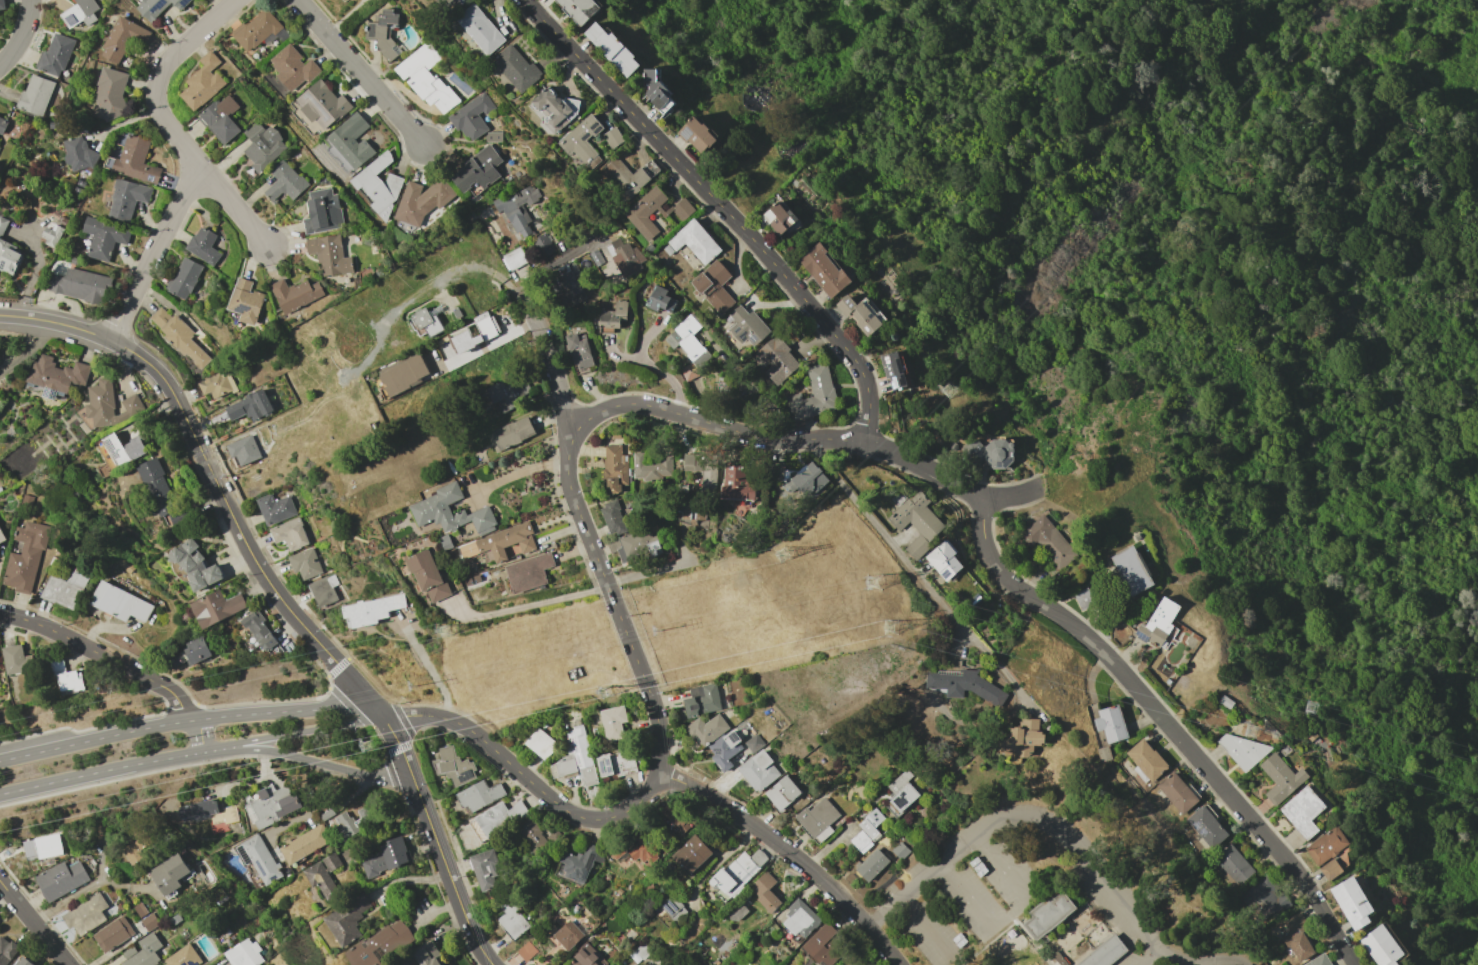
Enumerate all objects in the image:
building: (341, 0)
building: (344, 0)
building: (450, 4)
building: (2, 5)
building: (159, 6)
building: (580, 9)
building: (80, 13)
building: (480, 29)
building: (259, 31)
building: (384, 33)
road: (23, 35)
building: (119, 40)
road: (1060, 48)
building: (613, 49)
building: (55, 55)
building: (293, 67)
building: (516, 68)
road: (364, 72)
building: (426, 77)
building: (202, 81)
building: (111, 87)
building: (657, 90)
building: (35, 95)
building: (556, 104)
building: (319, 107)
building: (471, 116)
building: (220, 118)
building: (2, 125)
building: (53, 125)
building: (697, 135)
building: (493, 136)
building: (613, 137)
building: (582, 142)
building: (350, 143)
building: (263, 146)
building: (81, 155)
road: (197, 159)
building: (134, 160)
building: (479, 171)
building: (630, 175)
building: (286, 182)
building: (380, 185)
building: (126, 198)
building: (422, 201)
road: (723, 205)
road: (239, 209)
building: (519, 209)
building: (323, 212)
building: (637, 213)
building: (781, 218)
building: (3, 224)
building: (52, 234)
building: (103, 237)
building: (695, 241)
building: (204, 245)
building: (543, 245)
building: (668, 249)
building: (330, 255)
building: (624, 256)
building: (9, 257)
building: (596, 257)
building: (513, 258)
building: (75, 261)
road: (552, 262)
road: (468, 269)
building: (826, 270)
building: (183, 278)
building: (80, 285)
building: (570, 285)
building: (714, 285)
building: (296, 295)
building: (658, 297)
building: (246, 301)
building: (861, 314)
building: (611, 317)
building: (420, 318)
building: (747, 325)
building: (487, 328)
building: (179, 337)
building: (689, 340)
road: (28, 349)
building: (580, 351)
road: (617, 355)
building: (775, 358)
road: (650, 366)
road: (550, 369)
building: (894, 370)
building: (402, 374)
building: (54, 376)
building: (724, 385)
building: (215, 386)
power tower: (948, 390)
building: (509, 393)
building: (813, 395)
building: (108, 404)
building: (251, 406)
road: (722, 427)
building: (511, 434)
building: (615, 434)
building: (243, 450)
building: (119, 452)
building: (991, 452)
building: (690, 461)
building: (651, 467)
building: (614, 469)
road: (521, 471)
building: (709, 473)
building: (799, 479)
building: (737, 483)
building: (0, 489)
building: (160, 492)
building: (26, 500)
building: (275, 508)
building: (429, 508)
building: (694, 515)
building: (613, 517)
building: (916, 523)
building: (290, 533)
building: (2, 536)
building: (445, 542)
building: (506, 542)
building: (1049, 543)
building: (634, 544)
building: (25, 556)
power tower: (781, 556)
building: (943, 561)
building: (305, 563)
road: (907, 563)
building: (125, 564)
building: (196, 565)
building: (1131, 570)
building: (528, 572)
building: (426, 575)
power tower: (872, 582)
building: (64, 589)
building: (324, 590)
road: (279, 598)
building: (1084, 598)
building: (118, 602)
road: (527, 605)
building: (216, 608)
building: (372, 610)
building: (1157, 625)
building: (259, 629)
power tower: (889, 629)
power tower: (440, 631)
power tower: (658, 631)
building: (190, 652)
building: (17, 660)
road: (119, 664)
road: (429, 668)
road: (1126, 674)
building: (66, 678)
building: (965, 684)
power tower: (413, 686)
power tower: (610, 690)
building: (702, 701)
building: (1226, 701)
power tower: (1310, 707)
power tower: (1309, 708)
road: (189, 720)
building: (1110, 723)
building: (613, 725)
building: (706, 729)
power tower: (1249, 731)
power tower: (180, 739)
building: (1021, 741)
building: (541, 743)
building: (754, 743)
power tower: (363, 746)
building: (726, 748)
building: (1242, 750)
road: (665, 752)
road: (191, 754)
building: (1104, 754)
building: (576, 758)
building: (1146, 761)
road: (323, 763)
building: (616, 763)
building: (453, 766)
building: (759, 770)
building: (1281, 777)
building: (899, 781)
building: (783, 793)
building: (1177, 793)
building: (478, 796)
building: (903, 799)
building: (270, 806)
road: (316, 809)
building: (1303, 810)
road: (1018, 812)
building: (209, 813)
building: (327, 814)
building: (675, 817)
building: (874, 817)
building: (819, 819)
building: (497, 820)
building: (355, 822)
building: (1207, 825)
building: (869, 829)
building: (97, 833)
building: (537, 838)
building: (861, 841)
building: (305, 843)
building: (136, 844)
building: (39, 846)
building: (1328, 846)
building: (616, 849)
building: (646, 849)
building: (900, 851)
building: (692, 854)
road: (795, 855)
building: (386, 857)
building: (259, 859)
building: (580, 862)
building: (1234, 864)
building: (872, 865)
road: (996, 867)
building: (485, 868)
building: (1331, 869)
building: (738, 872)
building: (171, 874)
building: (324, 876)
building: (61, 879)
road: (697, 889)
road: (79, 892)
building: (766, 892)
building: (216, 895)
road: (964, 895)
building: (1261, 895)
building: (1352, 901)
building: (672, 906)
building: (85, 914)
building: (1048, 915)
building: (145, 917)
building: (512, 918)
building: (175, 919)
building: (347, 919)
building: (800, 920)
road: (34, 924)
road: (925, 926)
building: (113, 933)
building: (568, 934)
building: (1295, 937)
building: (380, 945)
building: (825, 945)
building: (1381, 946)
building: (8, 951)
building: (143, 951)
building: (642, 951)
building: (524, 952)
building: (1105, 952)
building: (244, 954)
road: (1171, 955)
building: (184, 957)
road: (1146, 957)
building: (424, 958)
building: (1059, 958)
building: (585, 959)
road: (1199, 959)
building: (856, 960)
building: (1319, 960)
building: (25, 962)
road: (1224, 962)
building: (678, 964)

